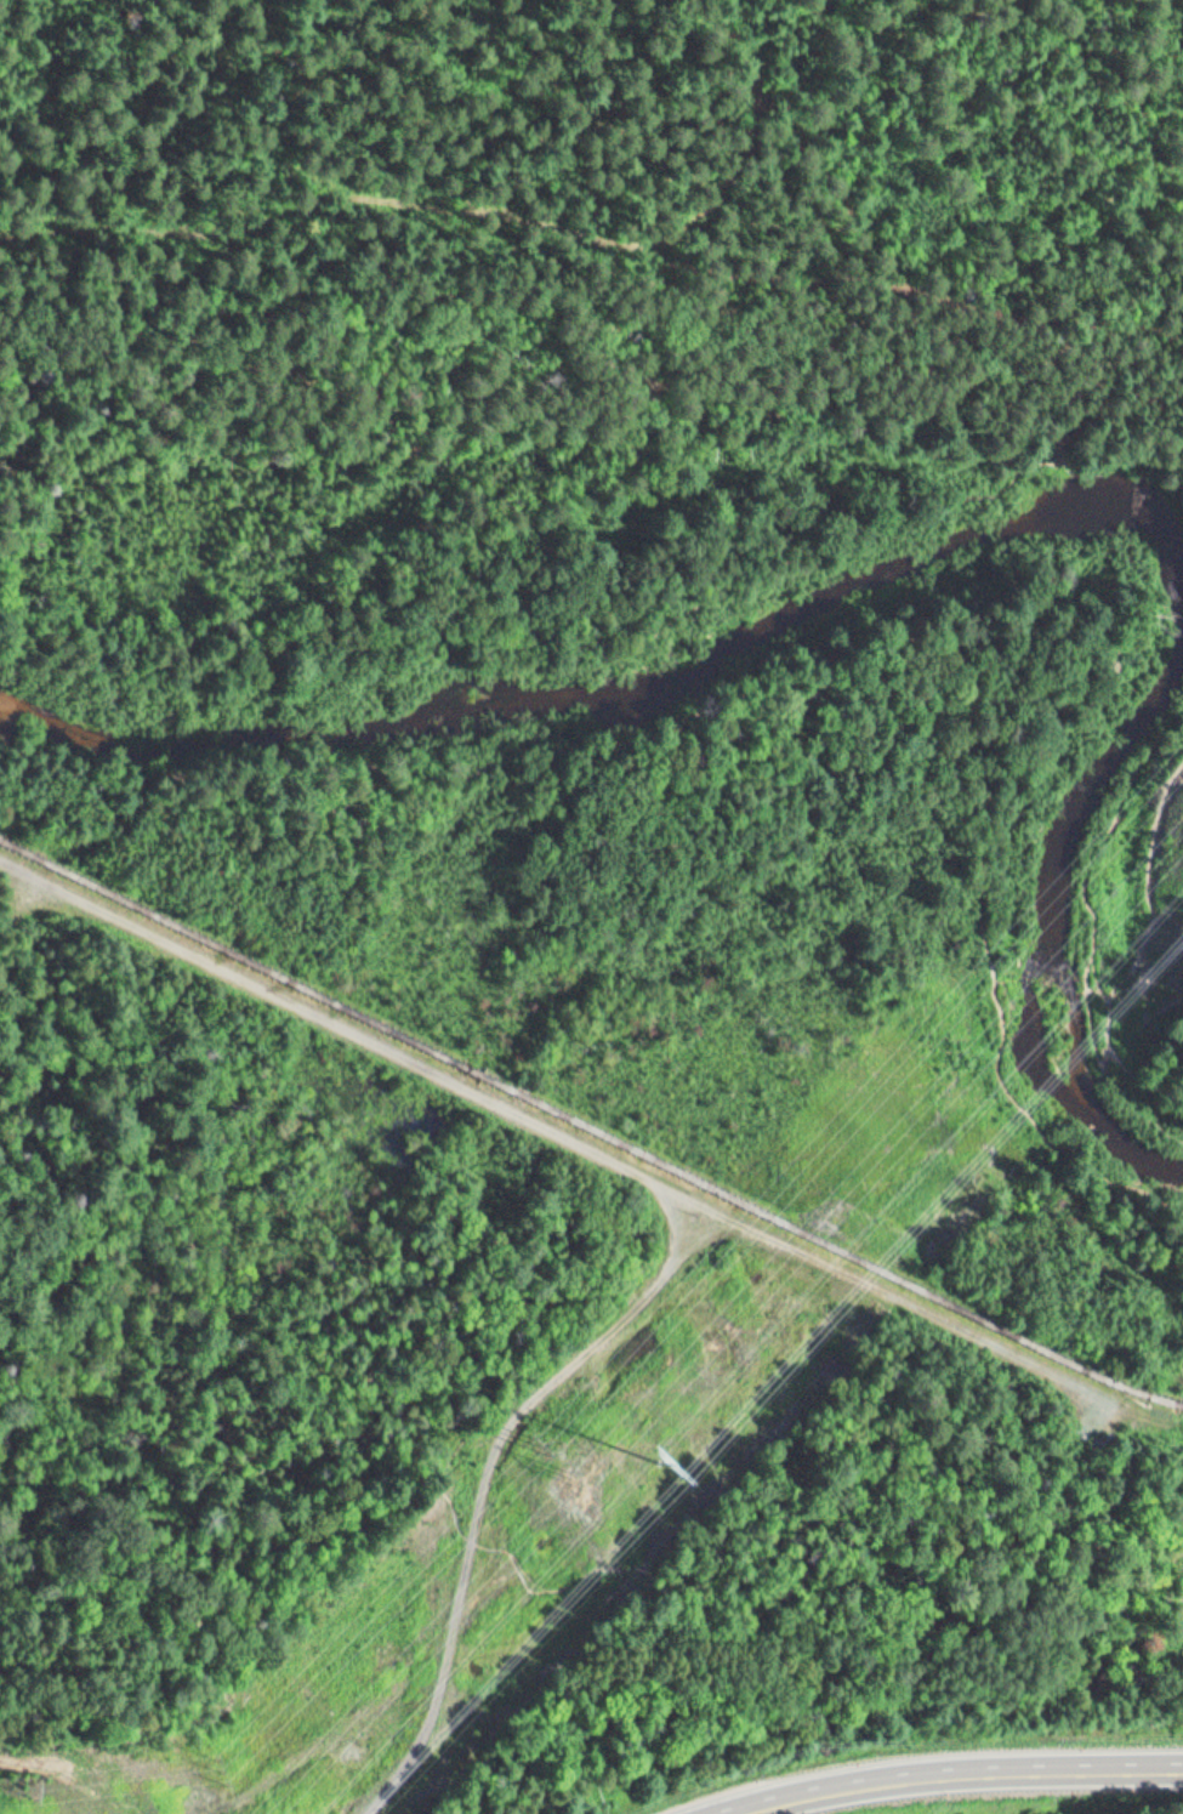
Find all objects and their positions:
road: (791, 140)
road: (592, 235)
road: (920, 626)
road: (608, 636)
road: (1128, 966)
road: (1182, 1079)
road: (1165, 1119)
road: (570, 1135)
power tower: (542, 1444)
power tower: (662, 1465)
power tower: (582, 1479)
road: (489, 1484)
road: (517, 1566)
road: (67, 1770)
power tower: (218, 1772)
road: (945, 1772)
power tower: (33, 1791)

